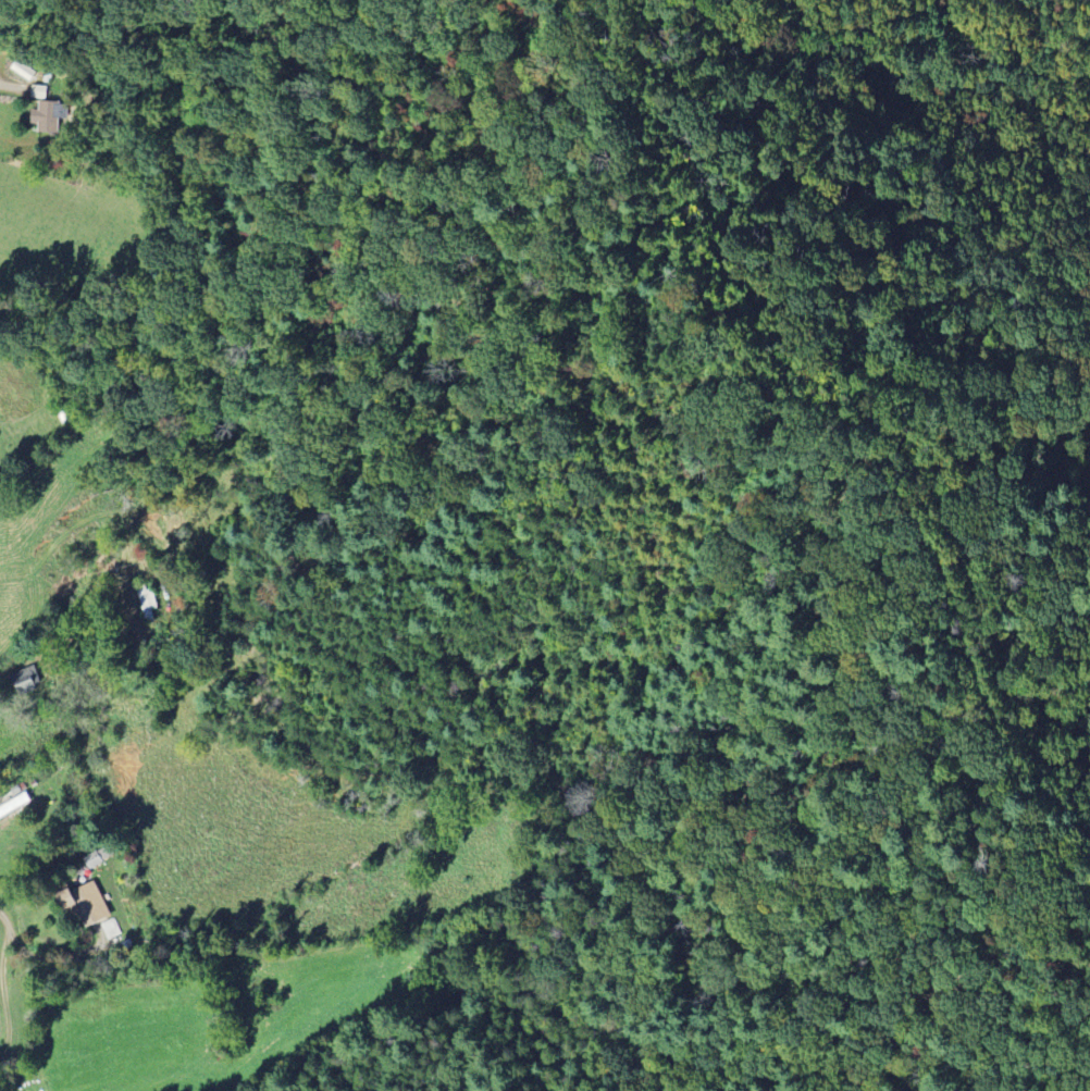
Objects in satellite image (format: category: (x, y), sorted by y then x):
building: (147, 603)
building: (24, 681)
building: (97, 858)
building: (84, 905)
building: (111, 929)
road: (2, 933)
road: (47, 955)
road: (4, 1021)

